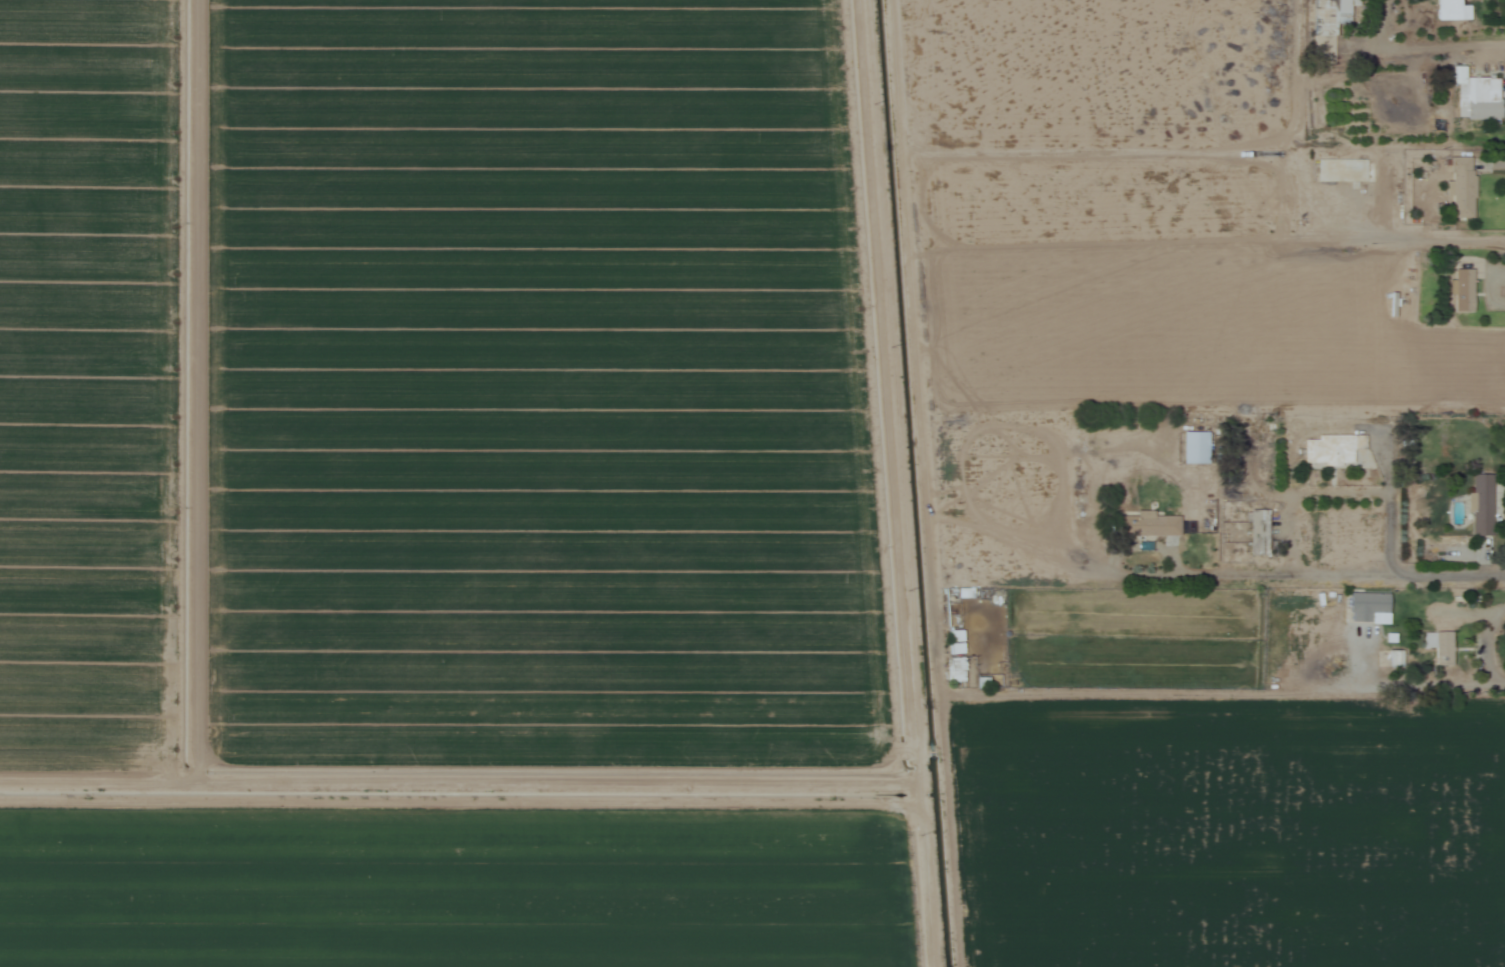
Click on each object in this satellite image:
building: (1339, 10)
building: (1449, 11)
building: (1473, 93)
building: (1345, 170)
building: (1460, 188)
building: (1461, 290)
building: (1194, 448)
building: (1330, 451)
building: (1479, 505)
building: (1146, 526)
building: (1256, 533)
road: (1314, 577)
building: (1366, 606)
building: (954, 642)
building: (1438, 647)
building: (1395, 659)
building: (956, 673)
road: (1253, 693)

